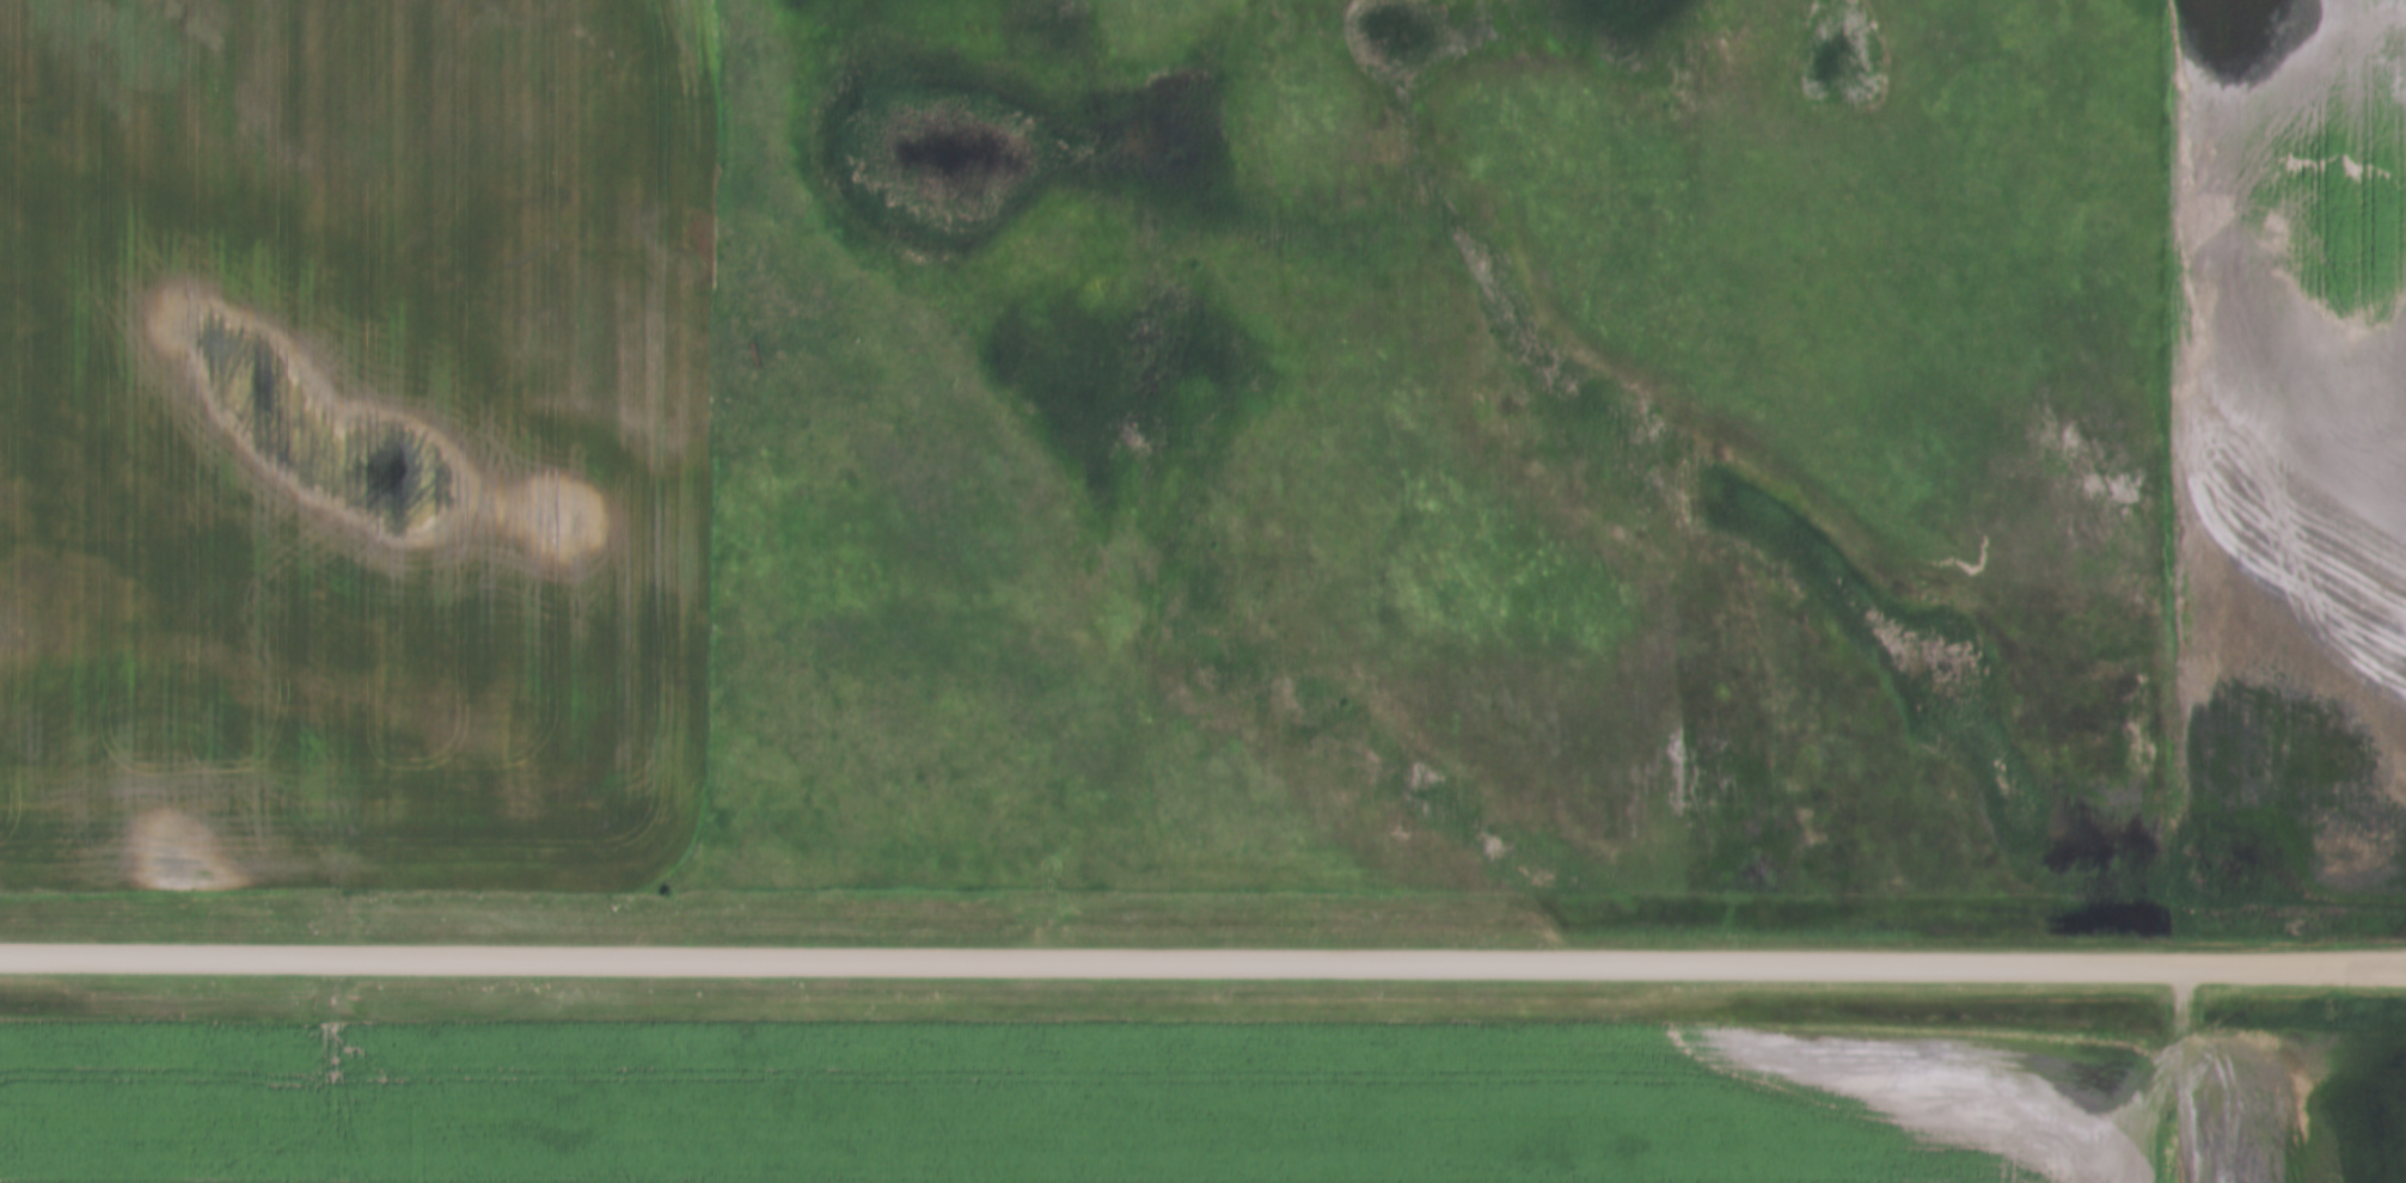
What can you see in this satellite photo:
road: (1202, 963)

